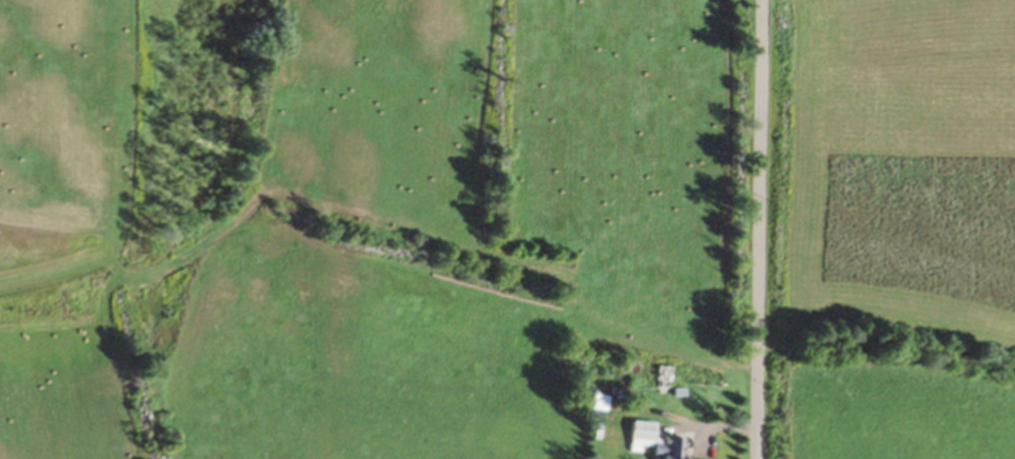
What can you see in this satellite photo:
road: (759, 229)
road: (726, 426)
building: (649, 441)

